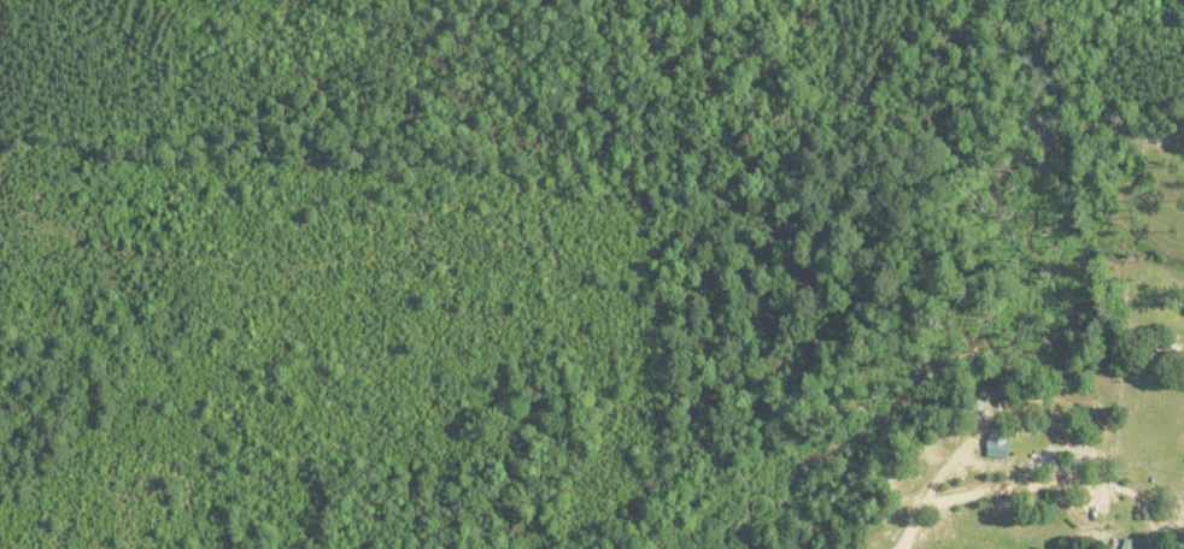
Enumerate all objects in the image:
building: (991, 444)
road: (996, 489)
road: (922, 500)
building: (1121, 543)

